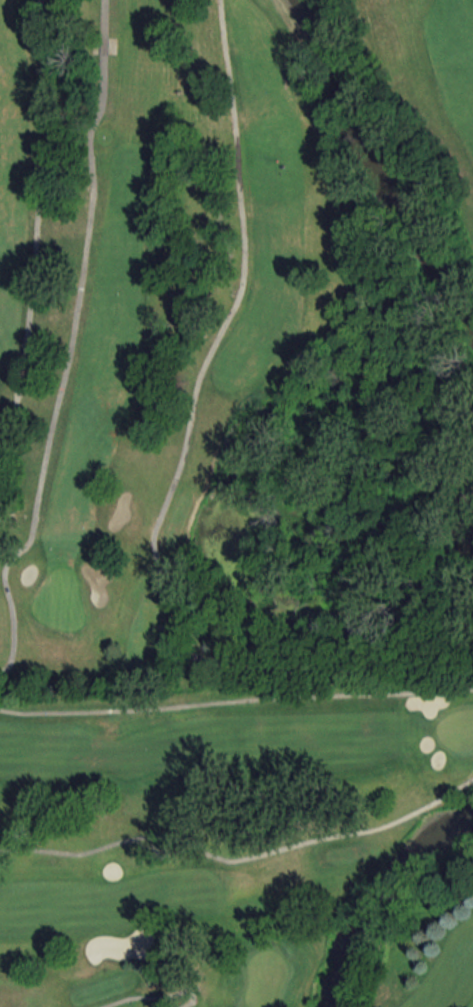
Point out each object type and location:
road: (33, 243)
road: (228, 311)
road: (69, 342)
park: (236, 343)
road: (305, 669)
park: (237, 846)

